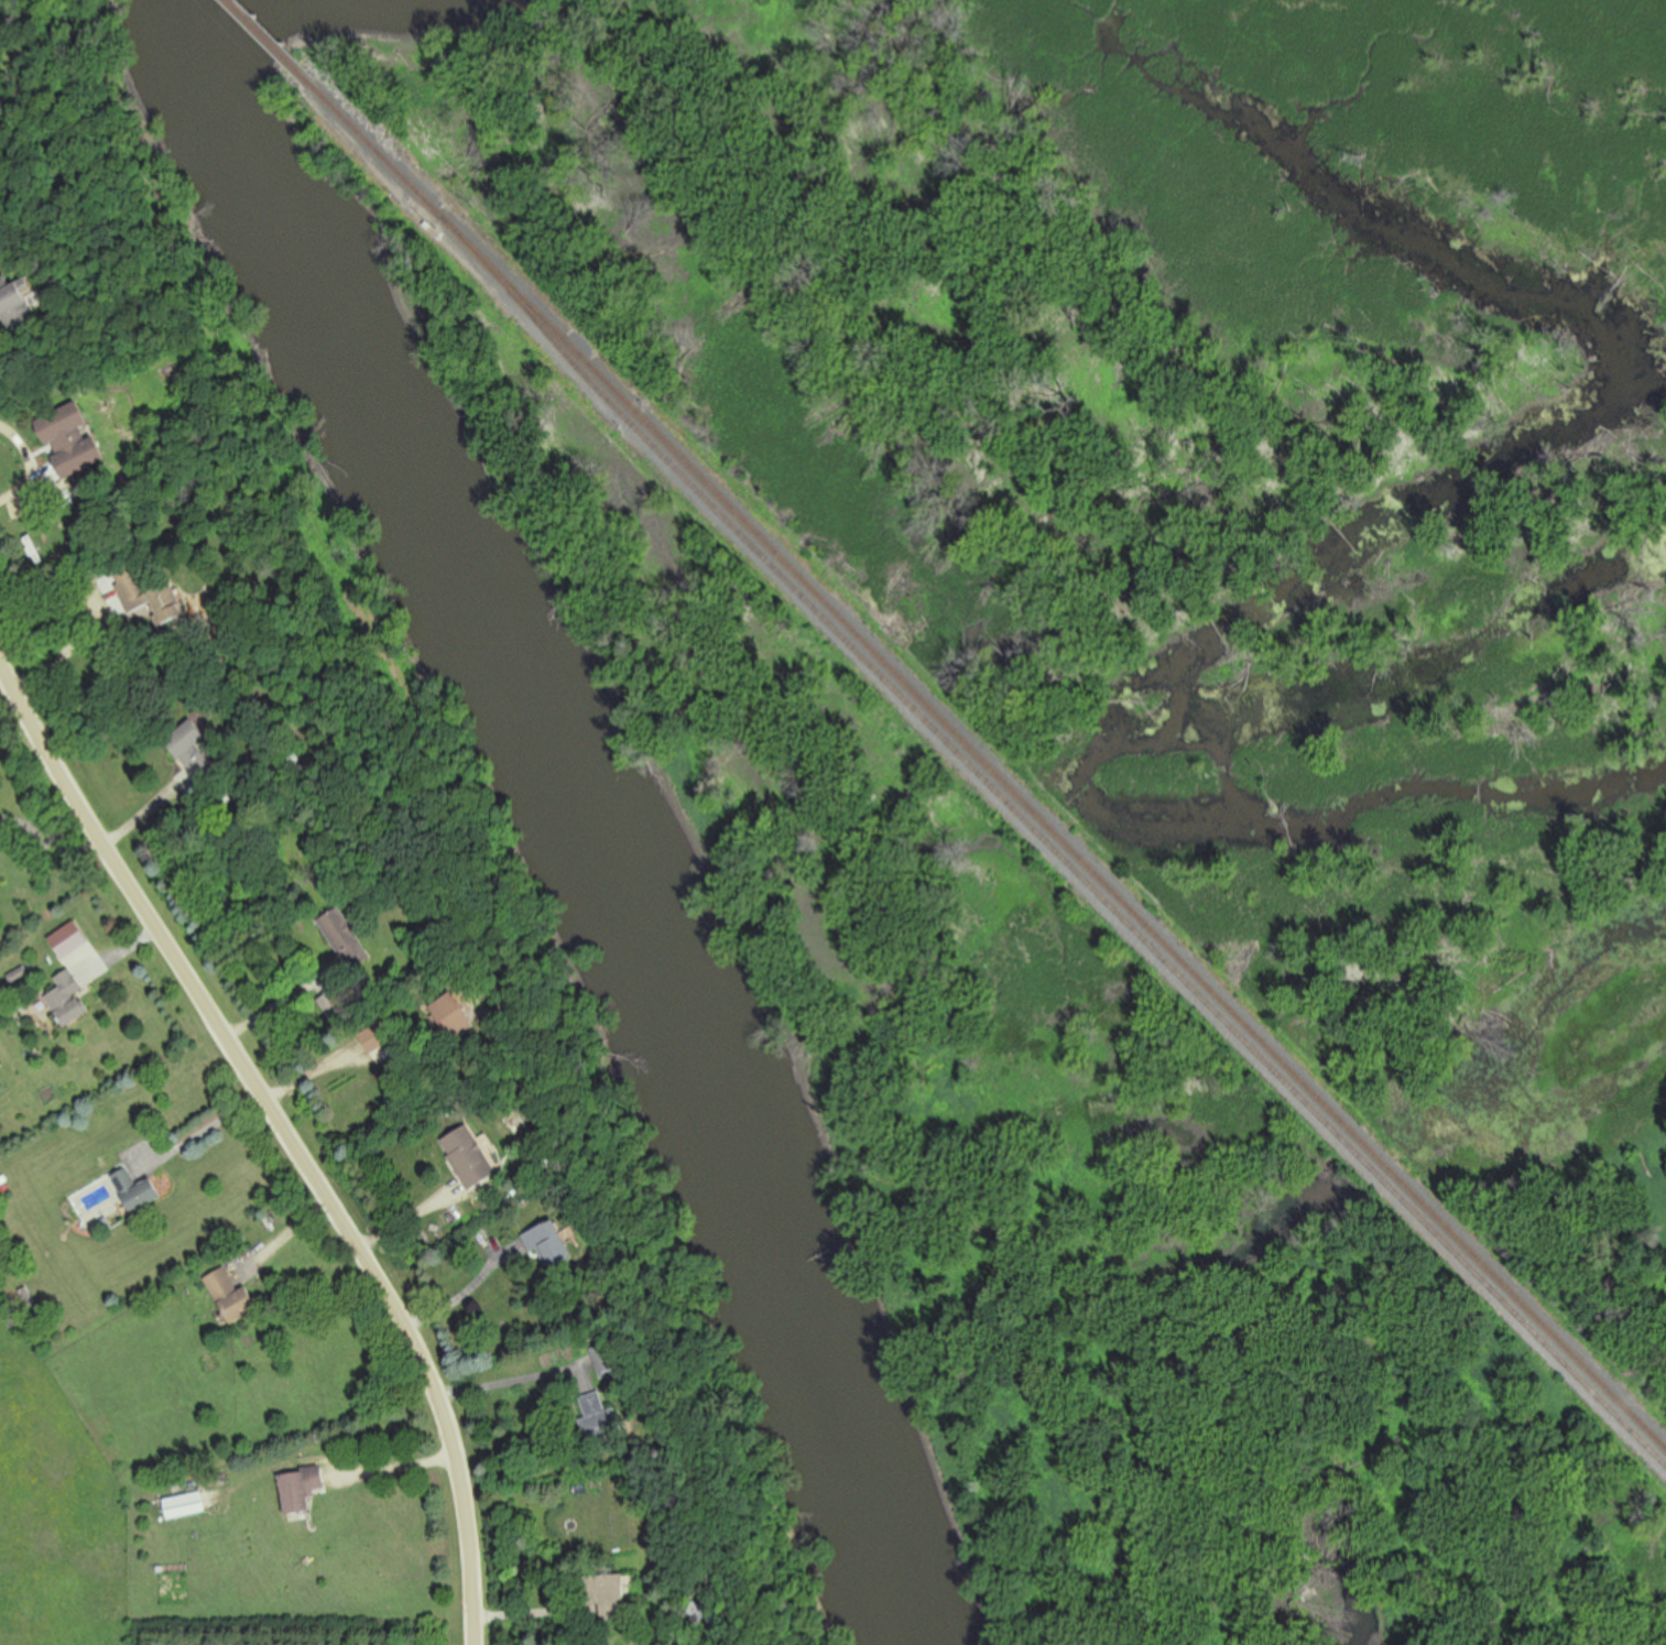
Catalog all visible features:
railway: (273, 42)
railway: (379, 148)
building: (14, 302)
building: (70, 442)
road: (32, 464)
building: (150, 597)
road: (69, 651)
building: (193, 751)
river: (553, 815)
railway: (1055, 827)
railway: (1049, 840)
road: (48, 843)
building: (348, 938)
building: (70, 940)
building: (69, 1000)
road: (284, 1000)
building: (453, 1017)
building: (380, 1043)
road: (206, 1131)
road: (293, 1132)
building: (470, 1157)
building: (137, 1190)
road: (414, 1218)
road: (290, 1235)
building: (549, 1244)
road: (467, 1293)
building: (231, 1297)
building: (609, 1360)
road: (508, 1381)
building: (595, 1404)
building: (605, 1426)
road: (393, 1468)
building: (301, 1490)
building: (184, 1506)
building: (606, 1595)
road: (536, 1613)
building: (699, 1613)

